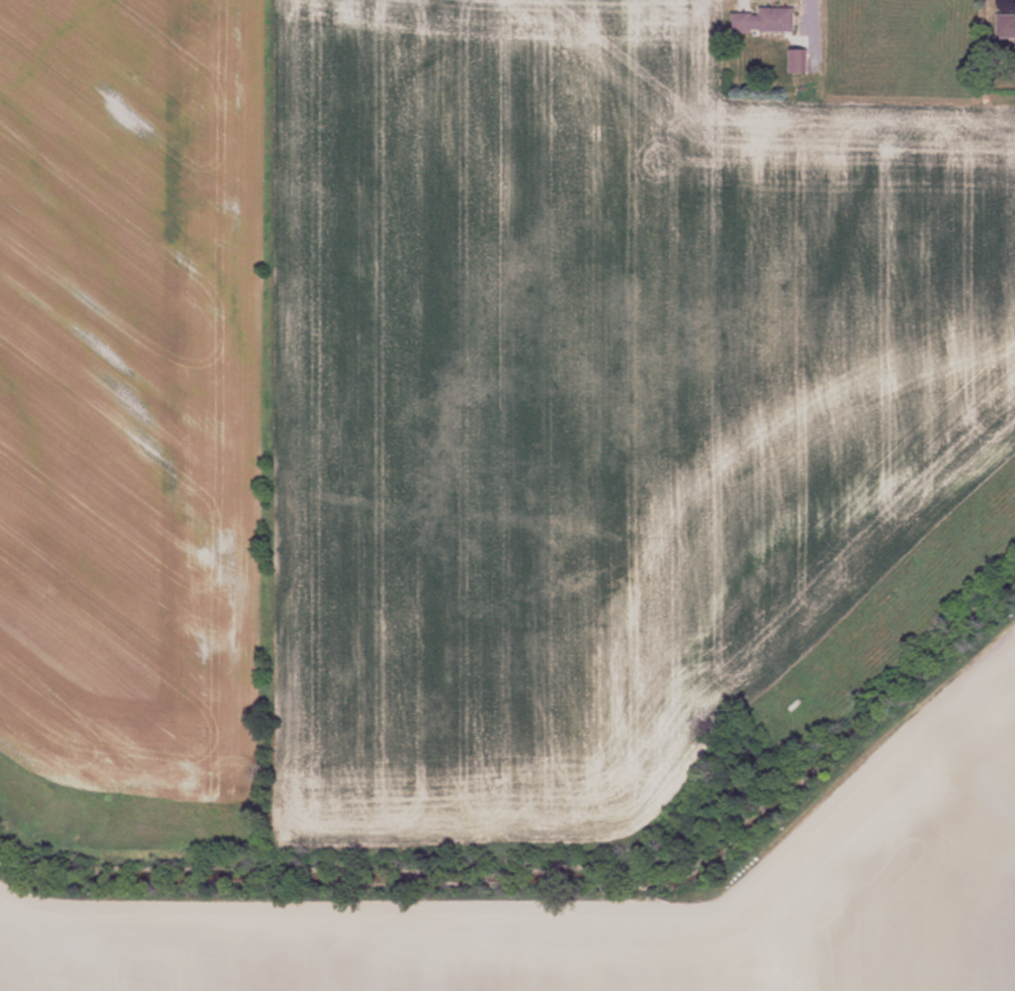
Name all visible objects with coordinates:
building: (767, 19)
building: (1006, 25)

